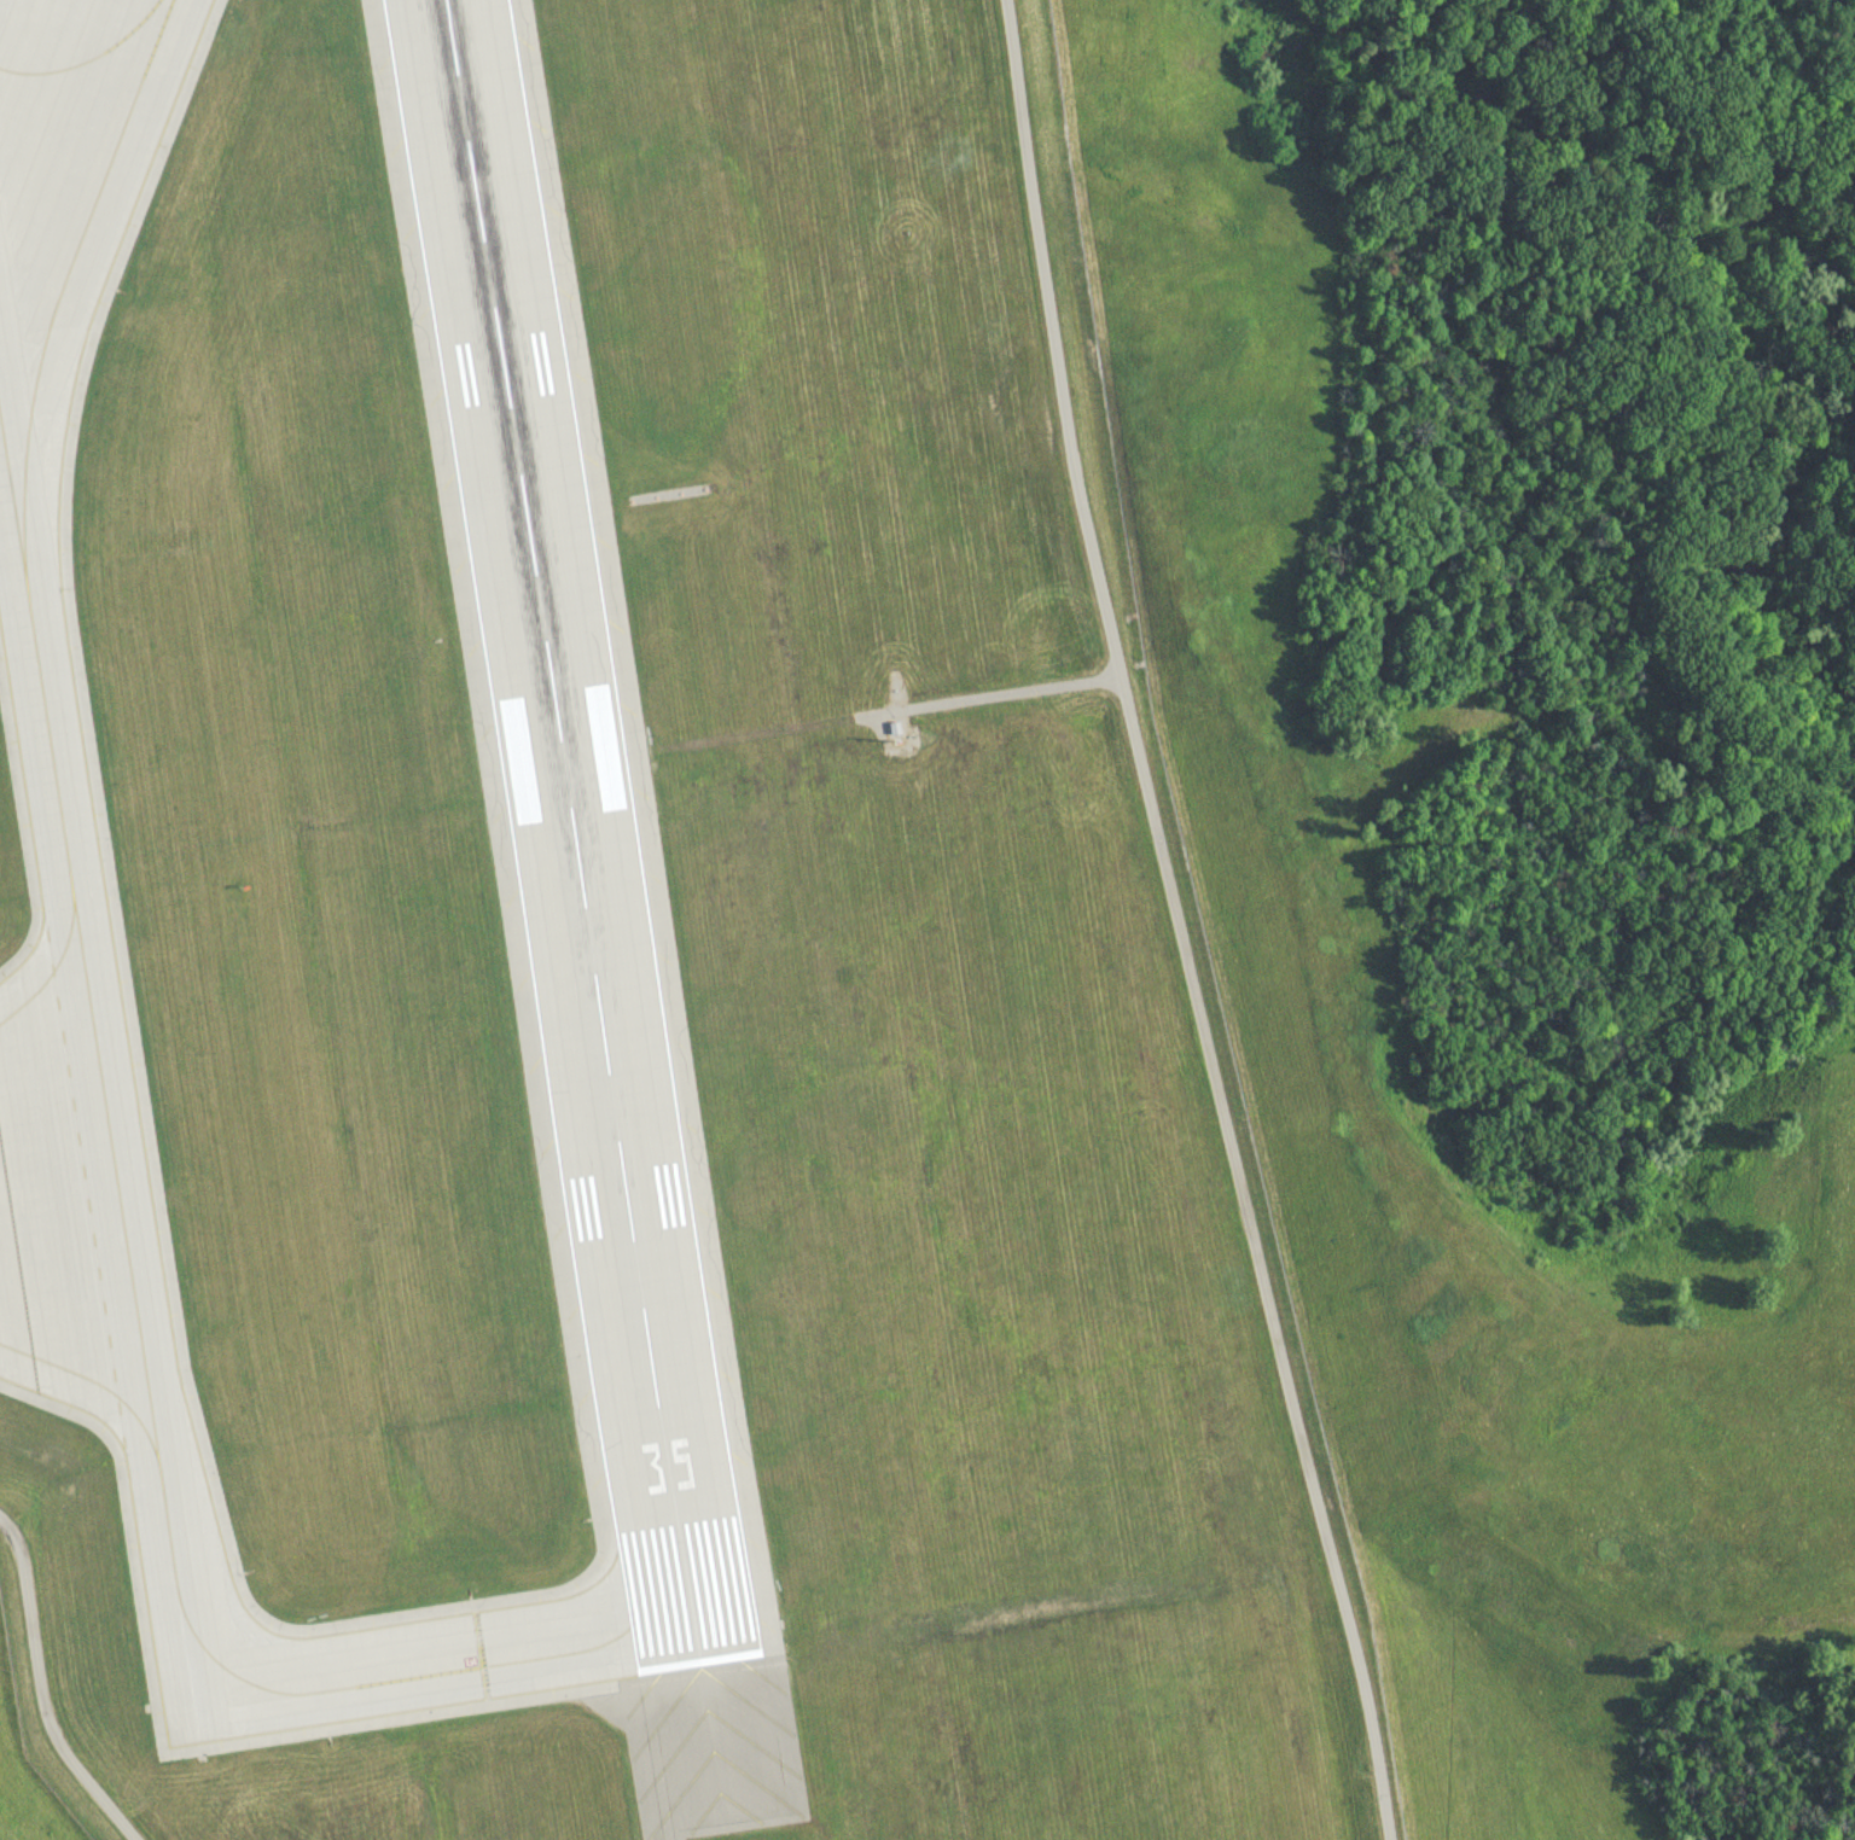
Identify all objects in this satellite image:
airport taxiway: (92, 60)
airport taxiway: (69, 272)
road: (1700, 727)
airport runway: (574, 829)
road: (1180, 922)
airport: (614, 965)
airport taxiway: (50, 973)
airport taxiway: (88, 996)
airport taxiway: (92, 1380)
airport taxiway: (432, 1672)
road: (42, 1689)

